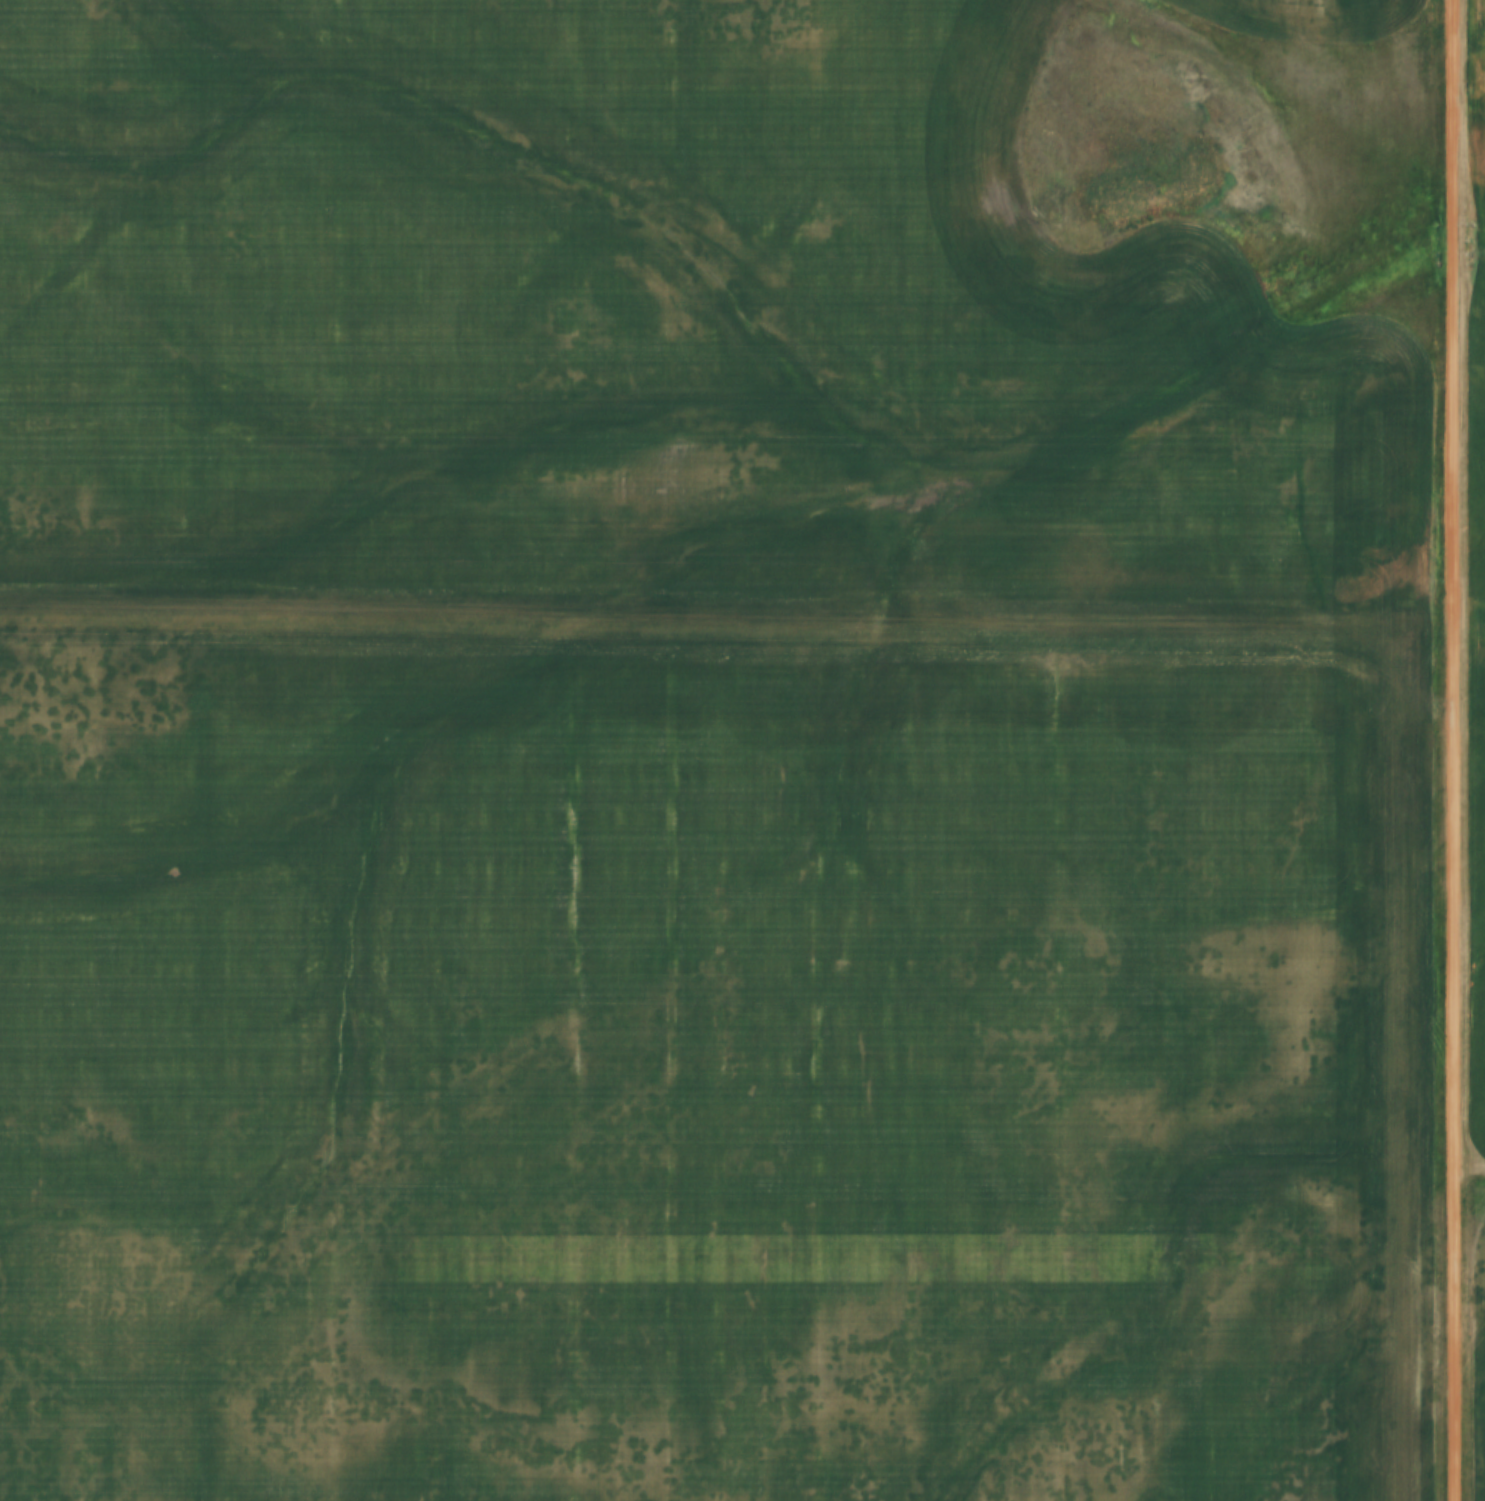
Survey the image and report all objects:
road: (1455, 750)

